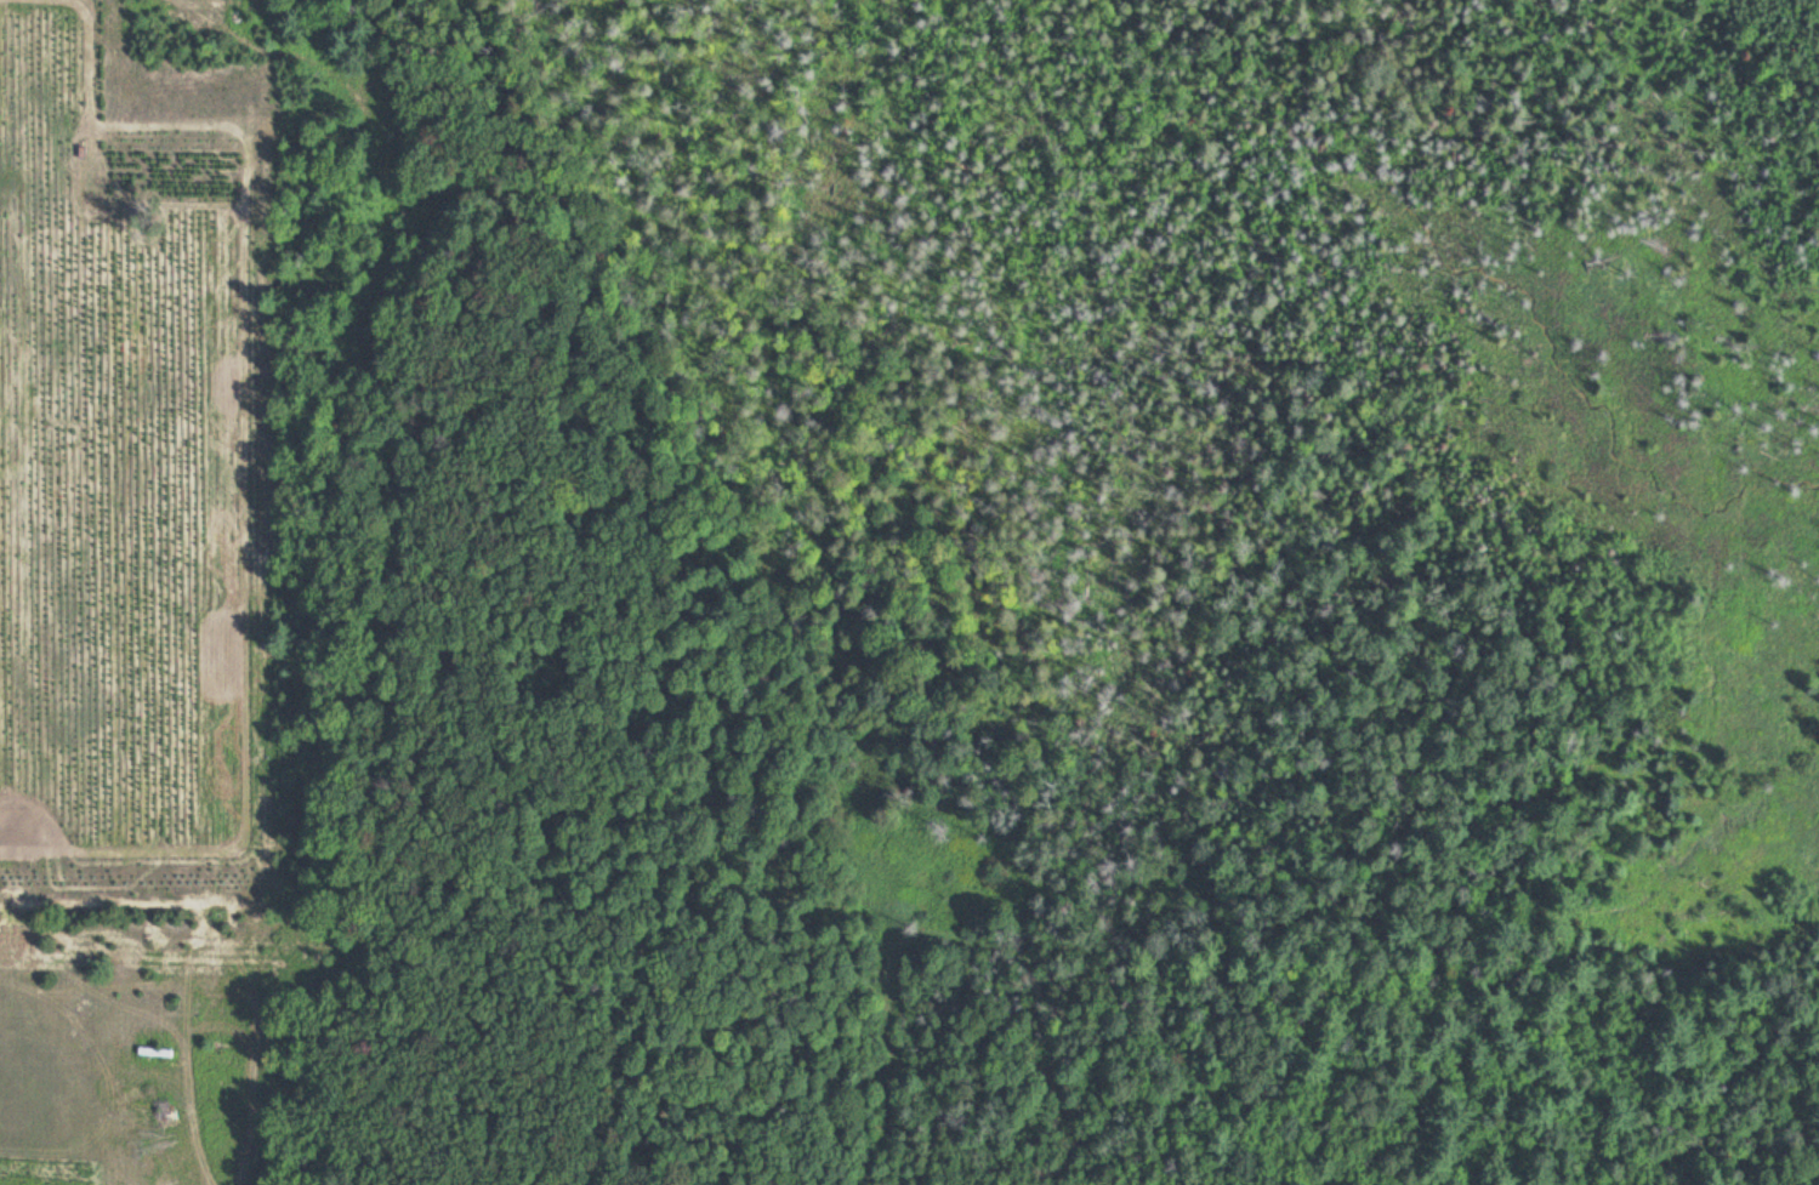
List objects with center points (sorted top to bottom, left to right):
building: (150, 1050)

